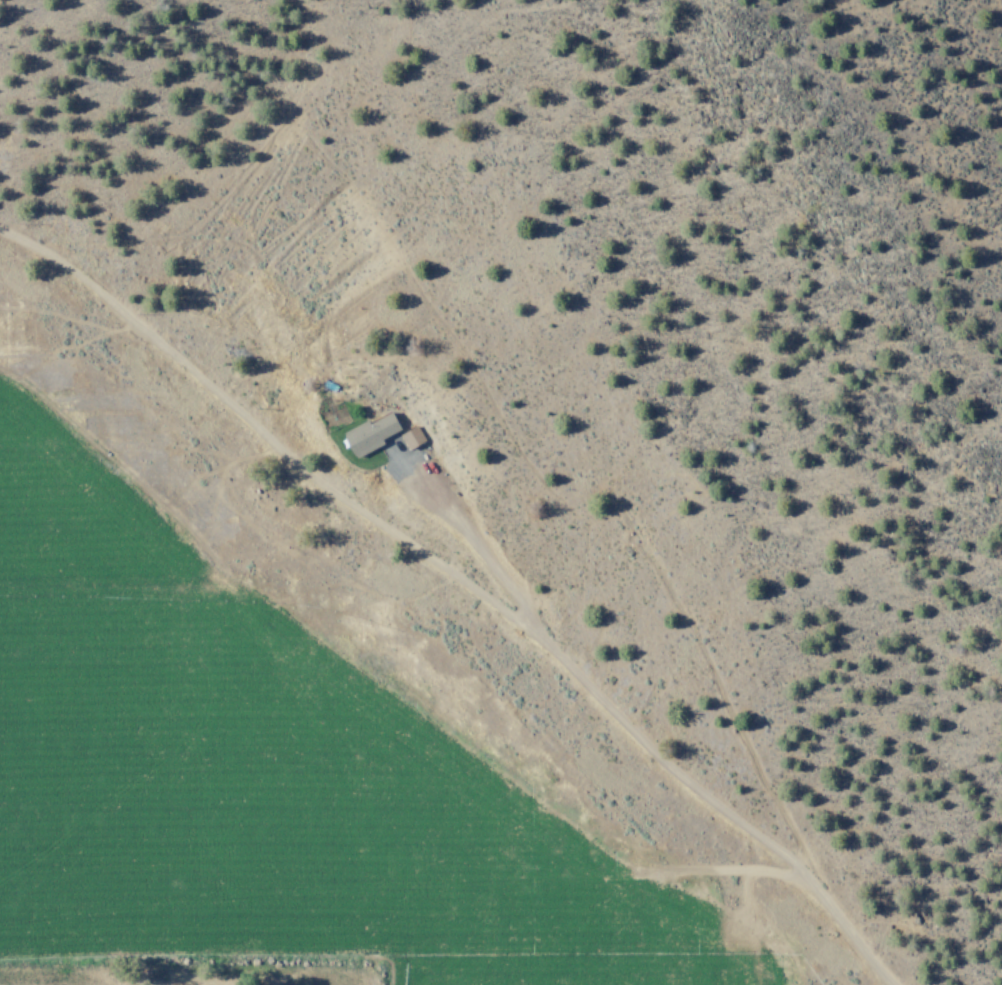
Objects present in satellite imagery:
building: (368, 435)
building: (410, 439)
road: (472, 543)
road: (465, 586)

